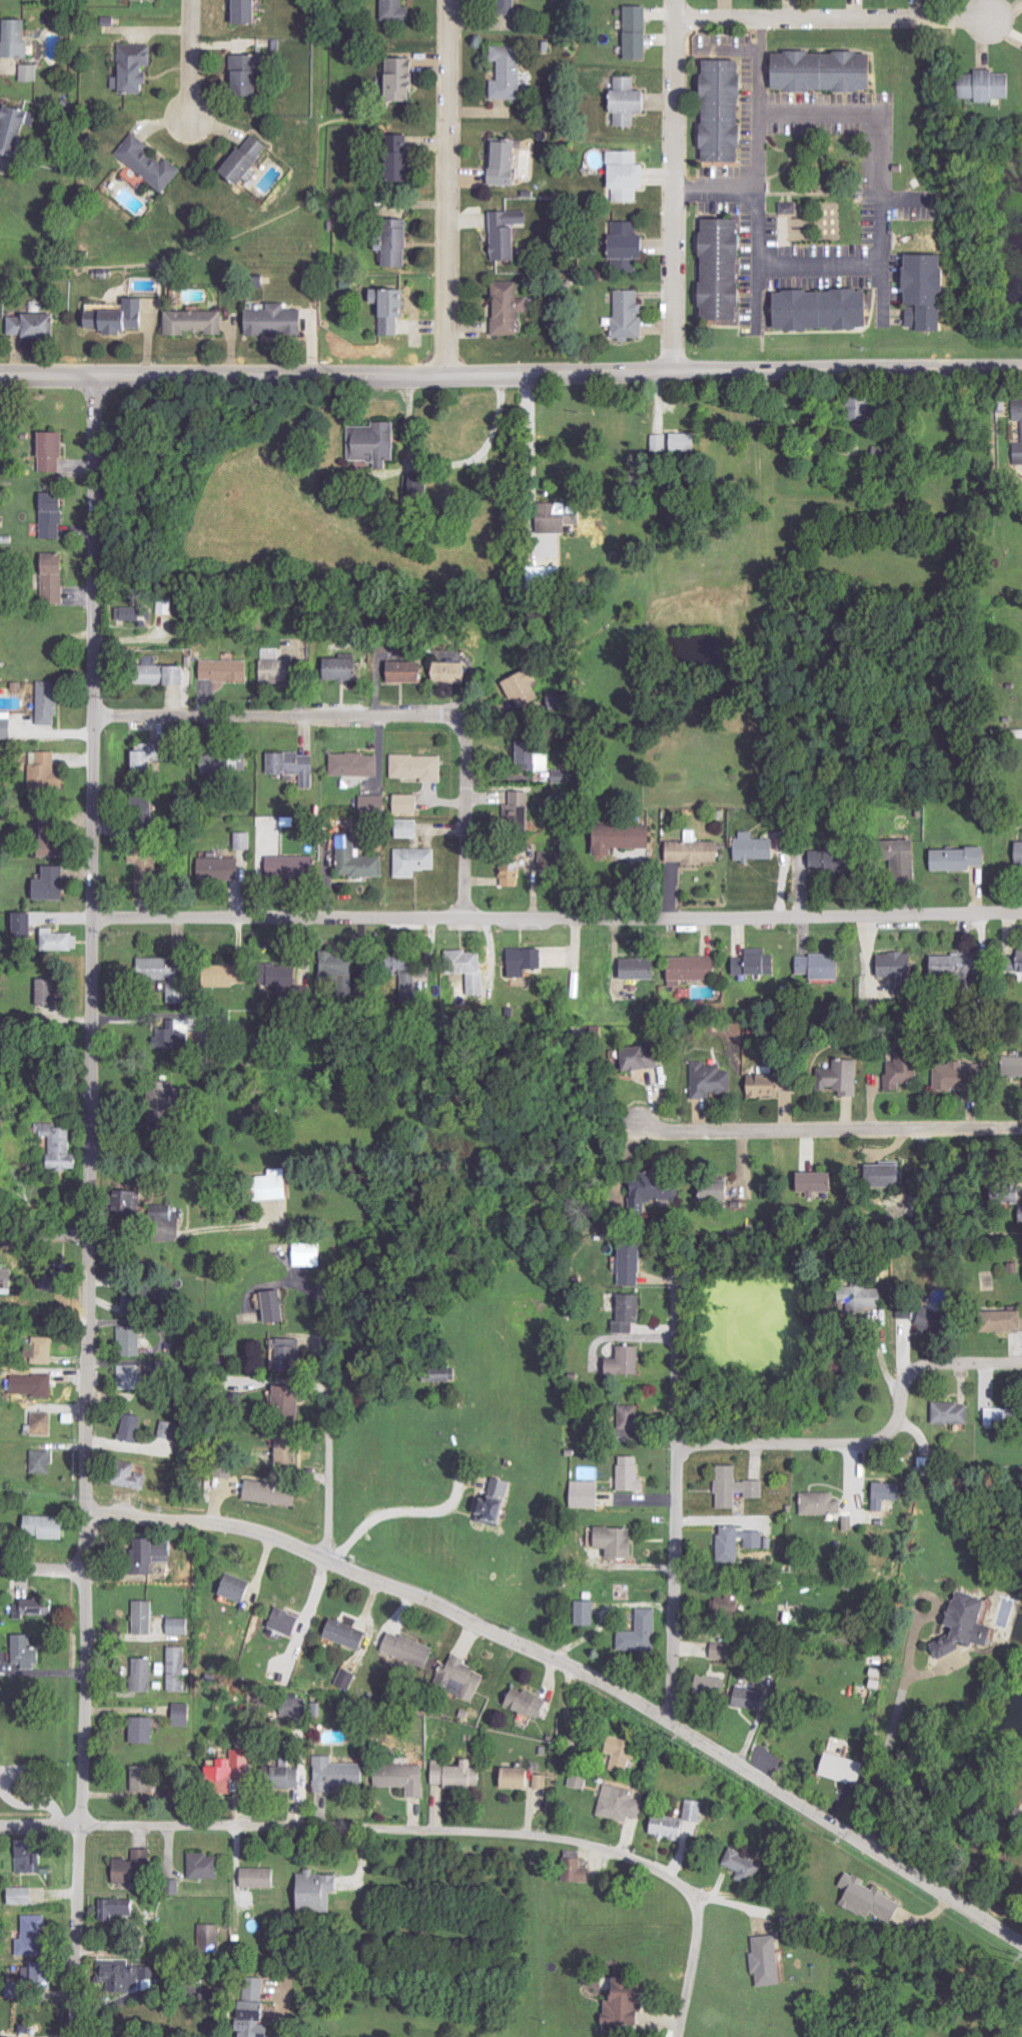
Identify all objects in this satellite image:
building: (148, 0)
building: (504, 0)
building: (399, 11)
building: (253, 13)
road: (836, 19)
building: (633, 32)
building: (19, 41)
road: (192, 60)
building: (138, 68)
building: (816, 71)
building: (32, 74)
building: (510, 74)
building: (250, 76)
building: (405, 80)
building: (982, 86)
building: (624, 101)
building: (716, 111)
building: (15, 130)
road: (761, 148)
building: (407, 157)
building: (251, 158)
building: (152, 163)
building: (508, 163)
building: (623, 176)
road: (675, 184)
road: (447, 187)
building: (788, 208)
road: (886, 226)
building: (622, 241)
building: (398, 242)
building: (621, 265)
building: (715, 269)
building: (919, 292)
building: (510, 307)
building: (393, 308)
building: (817, 310)
building: (625, 314)
building: (119, 316)
building: (279, 319)
building: (196, 322)
building: (36, 325)
road: (511, 373)
building: (851, 409)
building: (1021, 431)
road: (529, 437)
building: (673, 442)
building: (377, 443)
building: (56, 450)
building: (418, 488)
building: (55, 516)
building: (561, 517)
building: (551, 574)
building: (57, 578)
building: (137, 613)
building: (345, 669)
building: (228, 671)
building: (282, 671)
building: (409, 672)
building: (165, 673)
building: (456, 673)
building: (529, 690)
building: (52, 703)
road: (279, 714)
building: (8, 726)
building: (155, 756)
building: (537, 757)
building: (297, 766)
building: (358, 766)
building: (421, 768)
building: (45, 773)
building: (410, 804)
building: (522, 807)
road: (463, 817)
building: (412, 829)
building: (54, 835)
building: (624, 838)
building: (245, 841)
building: (757, 848)
building: (696, 851)
building: (1018, 854)
building: (898, 856)
building: (835, 859)
building: (954, 859)
building: (551, 860)
building: (360, 861)
building: (417, 862)
building: (297, 867)
building: (223, 870)
building: (149, 871)
building: (514, 871)
building: (52, 884)
road: (558, 916)
building: (26, 924)
building: (60, 940)
building: (413, 961)
building: (529, 961)
building: (761, 963)
building: (1012, 963)
building: (946, 965)
building: (824, 966)
building: (694, 968)
building: (901, 968)
building: (642, 969)
building: (350, 970)
building: (472, 970)
building: (235, 975)
building: (169, 978)
building: (49, 995)
building: (172, 1041)
building: (645, 1058)
building: (1011, 1066)
building: (905, 1071)
building: (953, 1075)
building: (848, 1077)
building: (712, 1081)
building: (769, 1086)
building: (179, 1099)
road: (826, 1130)
building: (64, 1147)
building: (880, 1174)
building: (821, 1182)
building: (278, 1185)
building: (658, 1188)
building: (722, 1193)
building: (1006, 1194)
building: (137, 1204)
road: (92, 1206)
building: (165, 1213)
road: (108, 1235)
building: (309, 1255)
building: (633, 1265)
building: (855, 1298)
building: (140, 1305)
building: (277, 1307)
building: (922, 1312)
building: (904, 1313)
building: (632, 1314)
building: (999, 1321)
building: (134, 1341)
building: (291, 1353)
building: (628, 1362)
building: (133, 1378)
building: (452, 1380)
building: (286, 1399)
building: (949, 1413)
building: (995, 1416)
building: (624, 1421)
road: (331, 1424)
building: (41, 1428)
building: (134, 1428)
building: (171, 1431)
road: (878, 1439)
building: (291, 1450)
building: (44, 1463)
building: (226, 1470)
building: (628, 1473)
building: (134, 1481)
road: (679, 1485)
building: (733, 1487)
building: (273, 1494)
building: (583, 1494)
building: (882, 1494)
building: (497, 1503)
building: (819, 1503)
road: (396, 1509)
building: (48, 1528)
building: (611, 1541)
building: (758, 1543)
building: (152, 1556)
road: (43, 1570)
building: (241, 1588)
building: (39, 1607)
building: (583, 1613)
building: (146, 1618)
building: (289, 1622)
building: (960, 1625)
building: (180, 1627)
building: (348, 1634)
building: (717, 1648)
building: (407, 1649)
building: (29, 1653)
road: (582, 1667)
building: (178, 1670)
building: (145, 1675)
building: (458, 1678)
building: (709, 1685)
building: (745, 1698)
building: (184, 1714)
building: (146, 1729)
road: (896, 1729)
building: (619, 1754)
building: (770, 1761)
building: (836, 1767)
building: (234, 1770)
building: (455, 1773)
building: (337, 1774)
building: (285, 1776)
building: (2, 1778)
building: (146, 1778)
building: (400, 1778)
building: (514, 1778)
building: (577, 1780)
building: (540, 1781)
building: (619, 1803)
building: (674, 1822)
road: (361, 1832)
building: (32, 1856)
building: (739, 1864)
building: (209, 1866)
building: (134, 1870)
building: (263, 1877)
building: (324, 1890)
building: (28, 1896)
building: (866, 1899)
building: (122, 1910)
building: (39, 1923)
building: (764, 1959)
road: (689, 1974)
building: (130, 1975)
building: (19, 1989)
building: (621, 1995)
building: (257, 2019)

